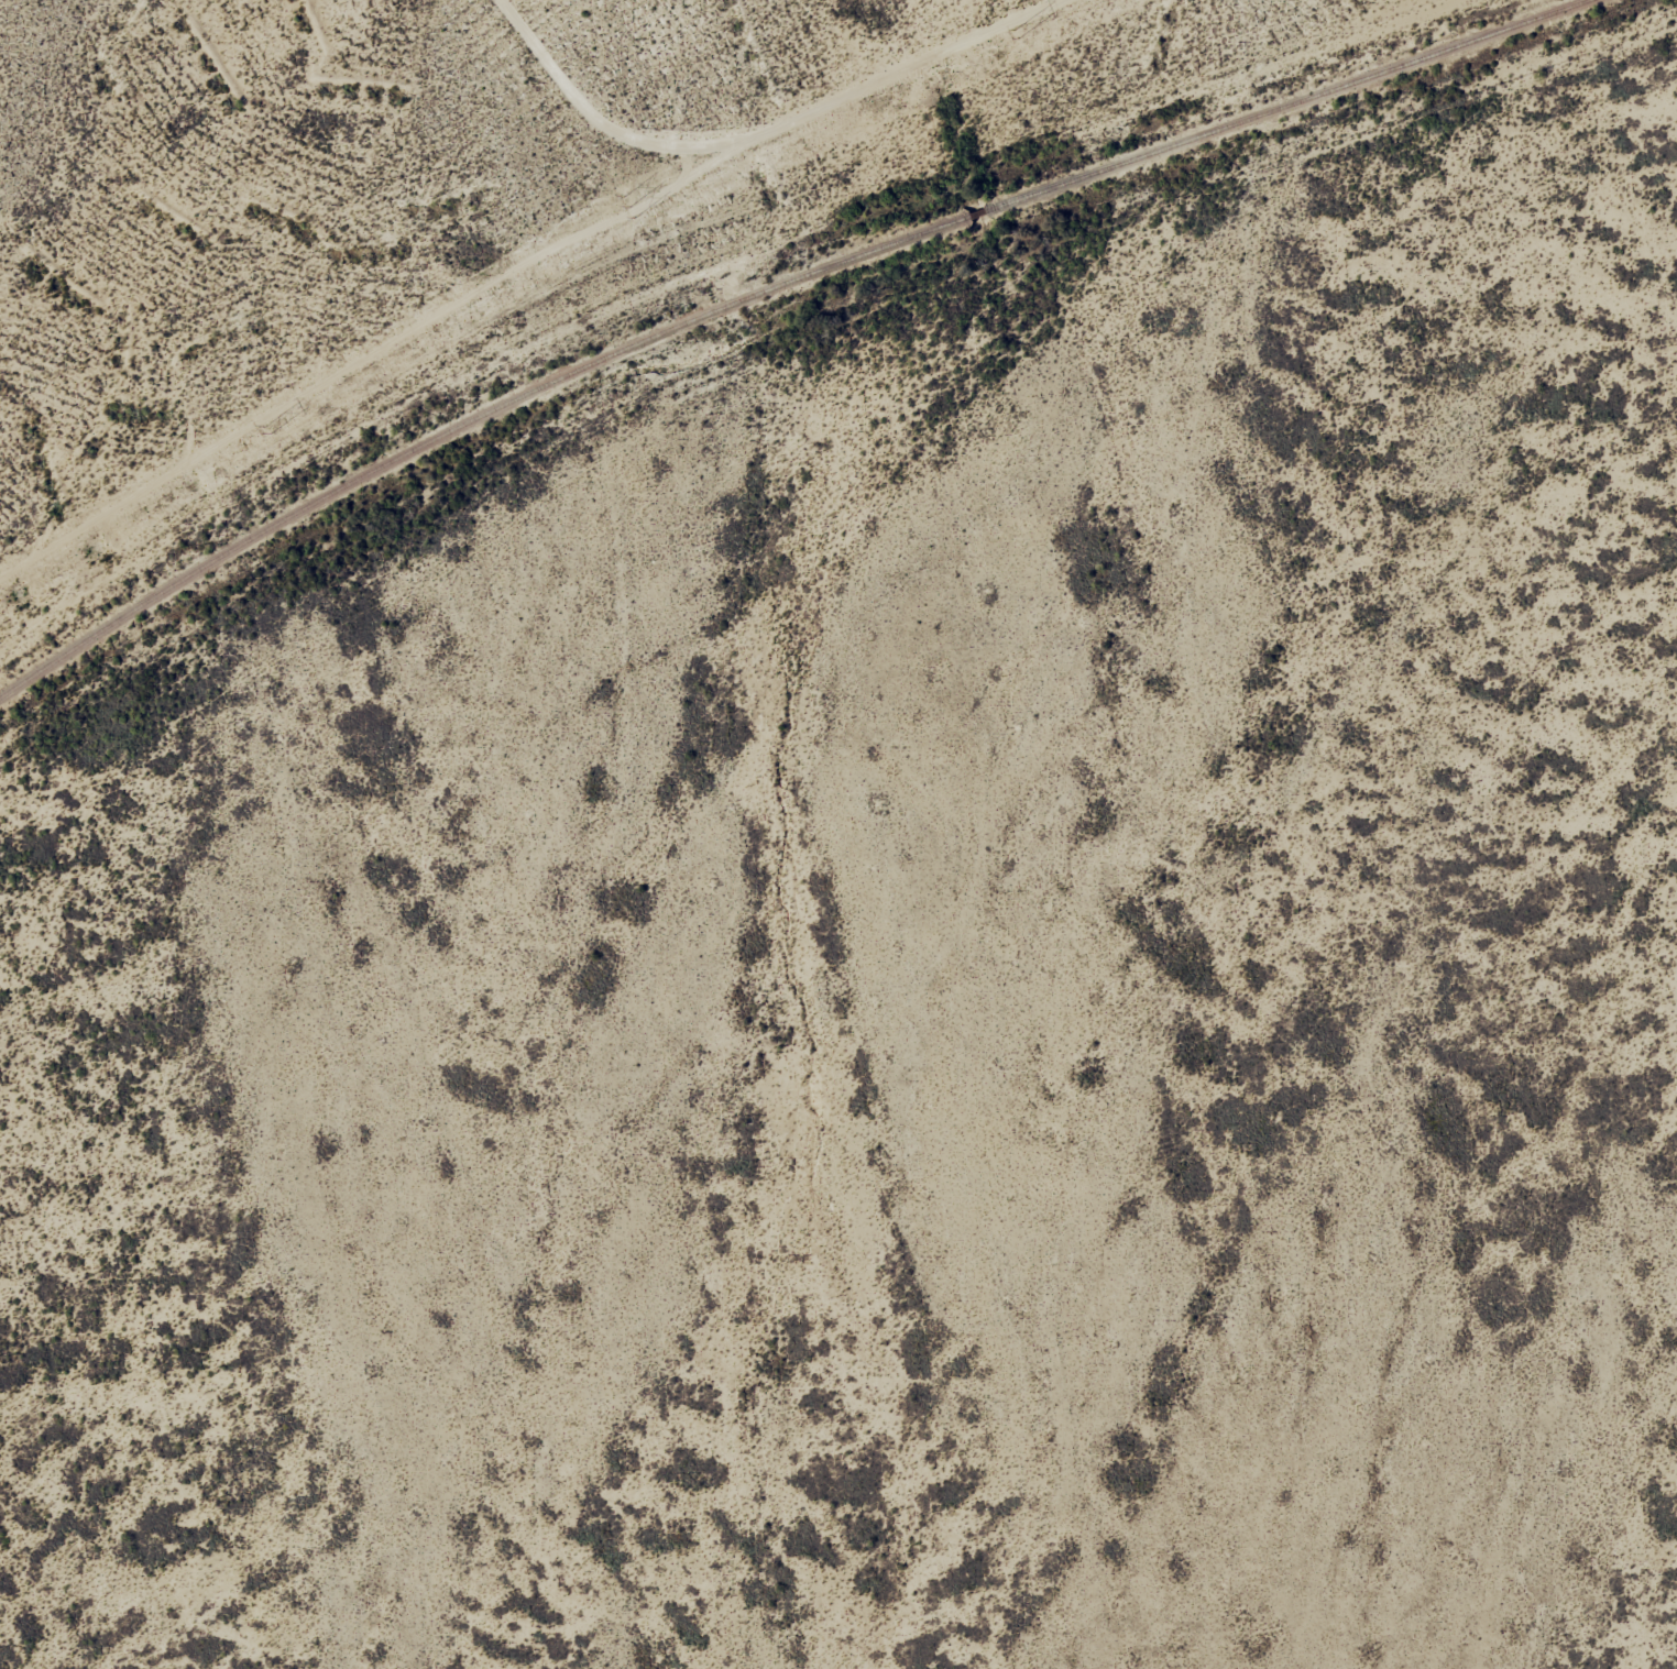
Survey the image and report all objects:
power tower: (1015, 34)
railway: (1287, 105)
power tower: (628, 206)
railway: (978, 212)
road: (634, 260)
railway: (468, 422)
road: (814, 428)
power tower: (264, 429)

